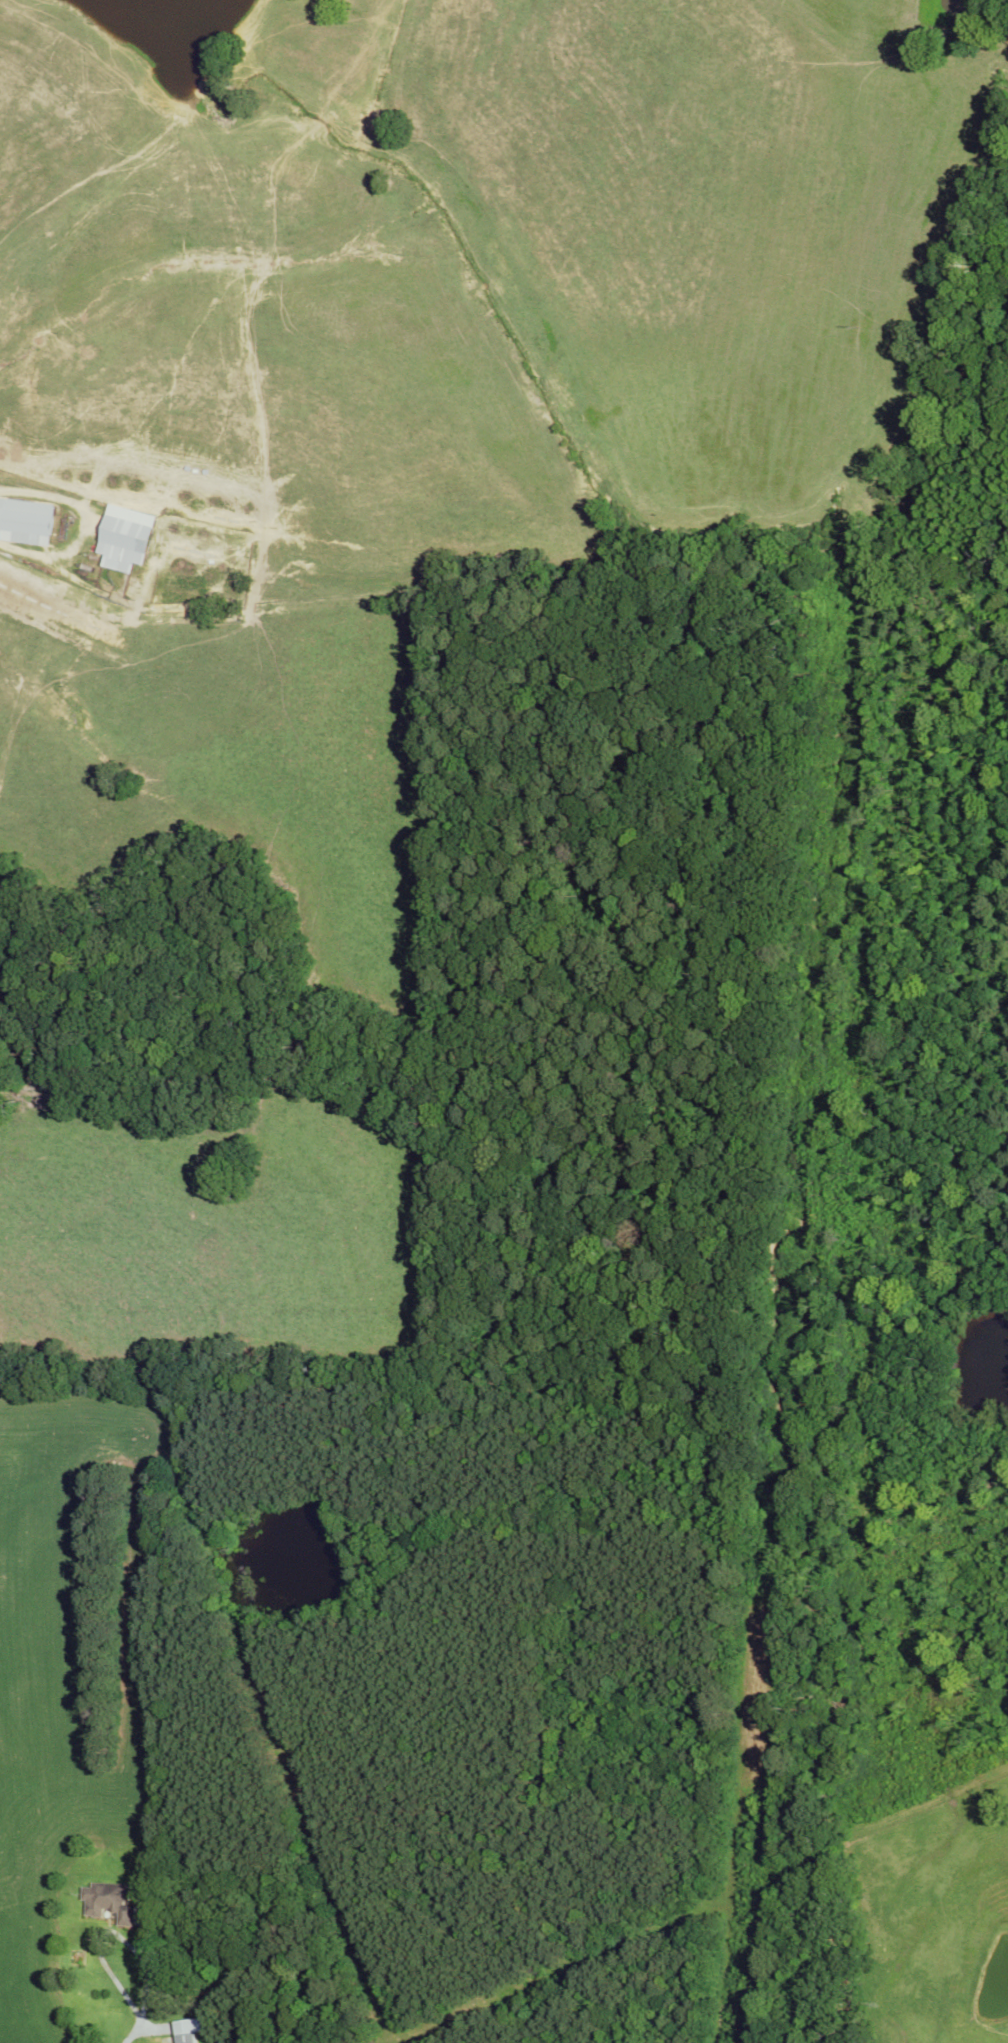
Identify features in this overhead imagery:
building: (26, 526)
building: (126, 542)
building: (110, 1906)
building: (187, 2039)

